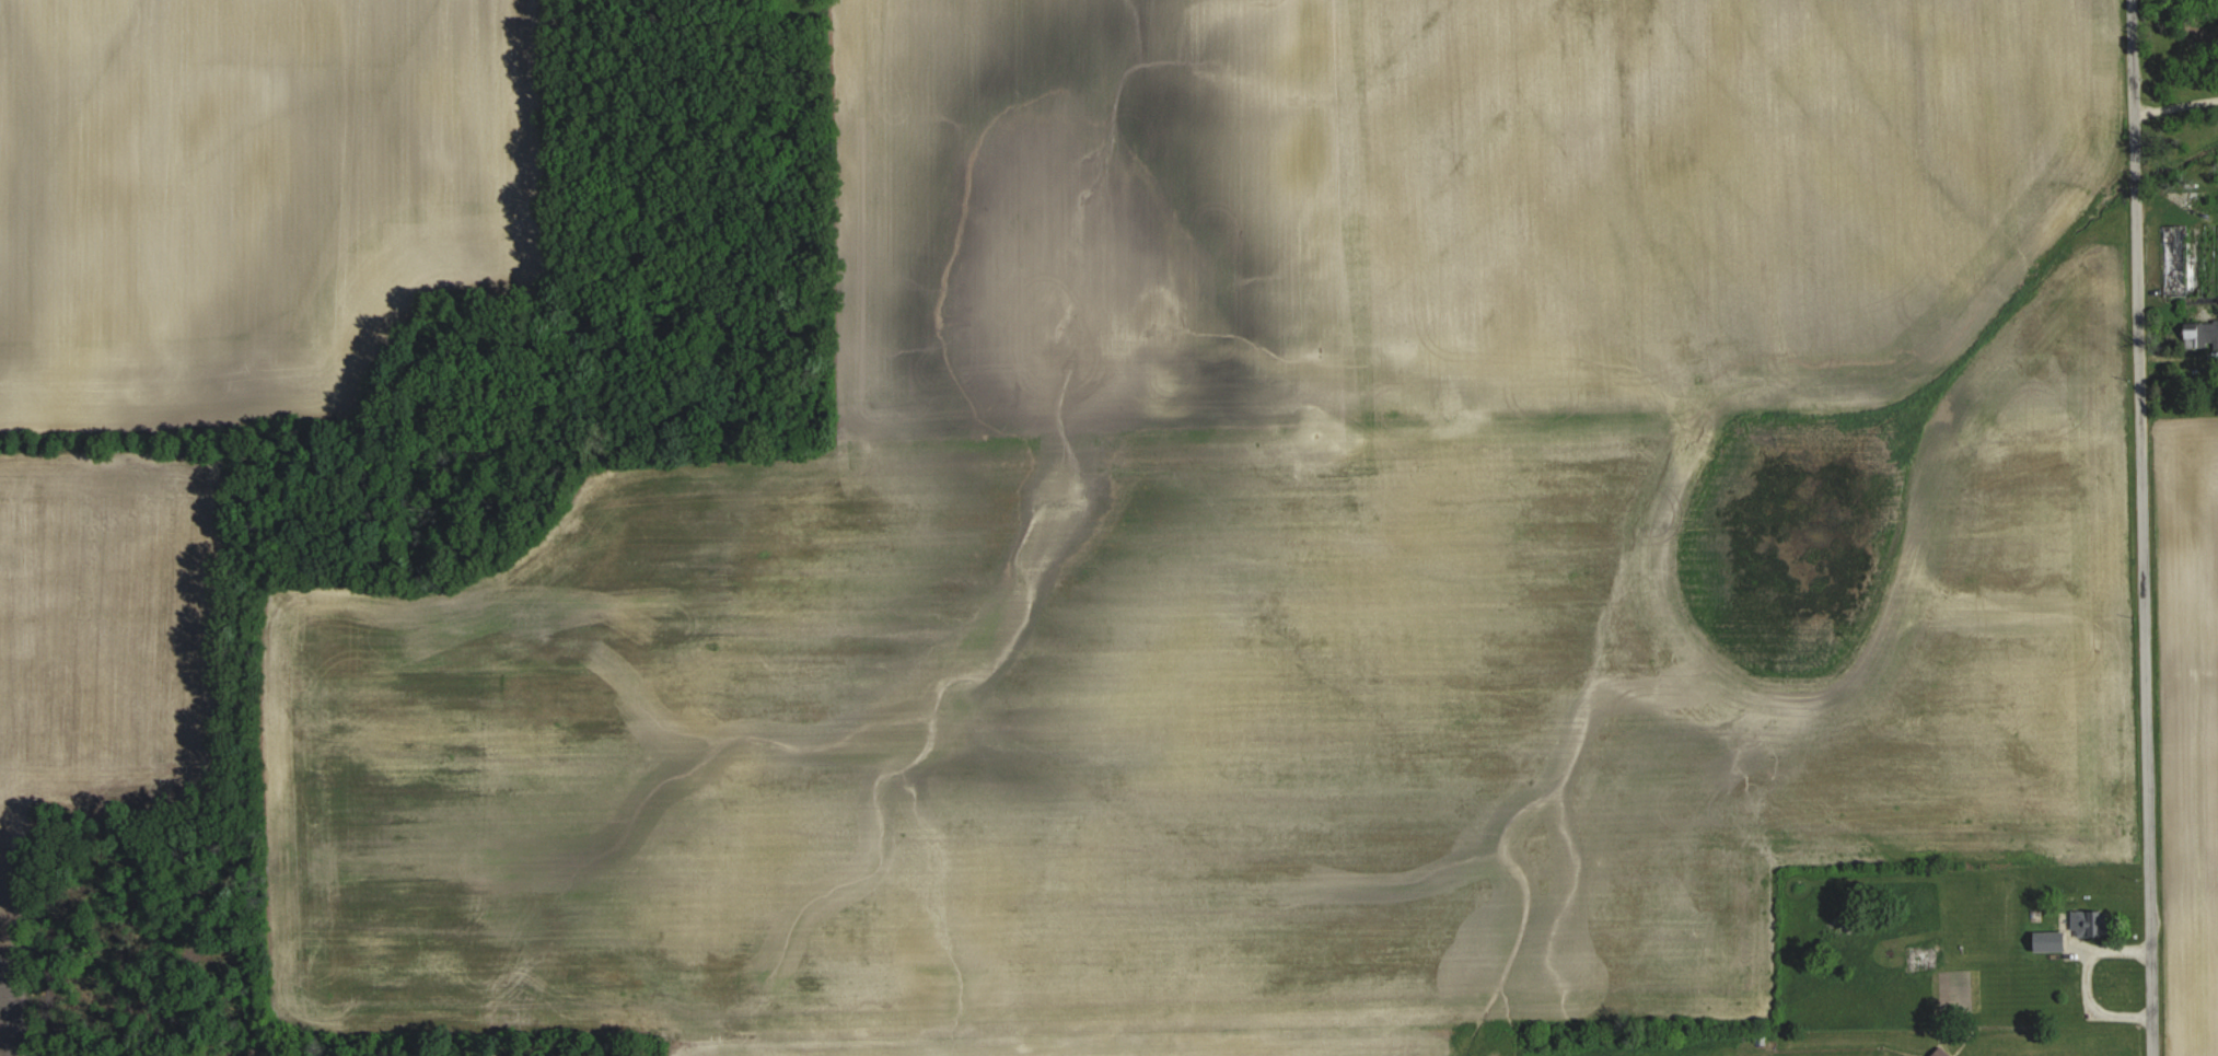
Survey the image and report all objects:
road: (2175, 103)
building: (2174, 259)
building: (2203, 334)
road: (2140, 527)
building: (2087, 920)
building: (2047, 939)
building: (1920, 959)
building: (1939, 1052)

